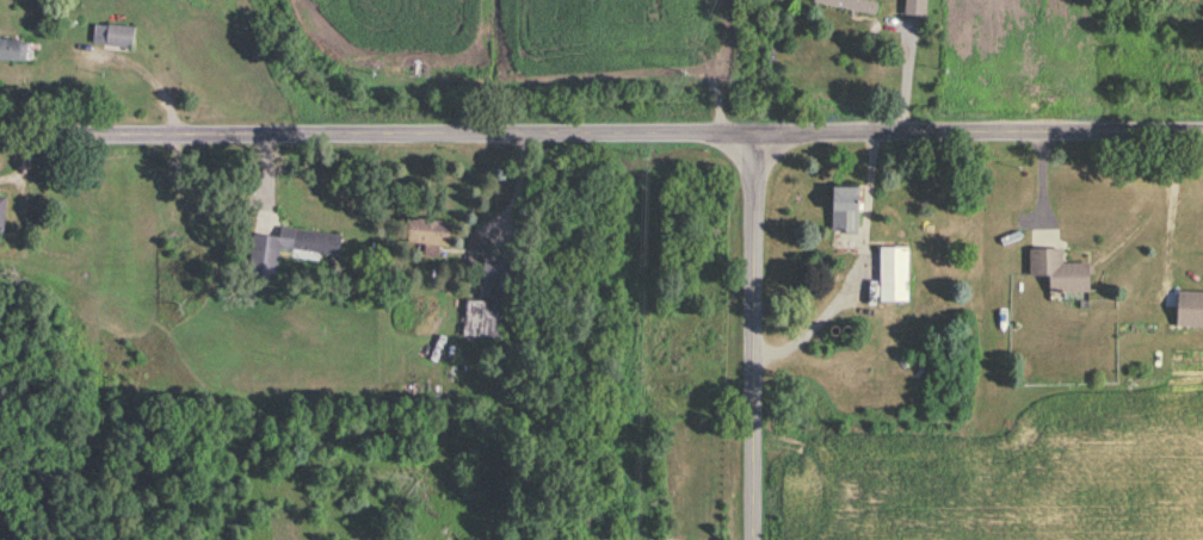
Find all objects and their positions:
building: (850, 6)
building: (113, 37)
building: (13, 51)
road: (378, 131)
road: (980, 134)
building: (846, 212)
building: (2, 213)
building: (199, 215)
building: (173, 223)
building: (430, 236)
building: (291, 250)
road: (852, 261)
building: (1060, 273)
building: (895, 275)
building: (489, 304)
building: (1190, 311)
road: (755, 335)

